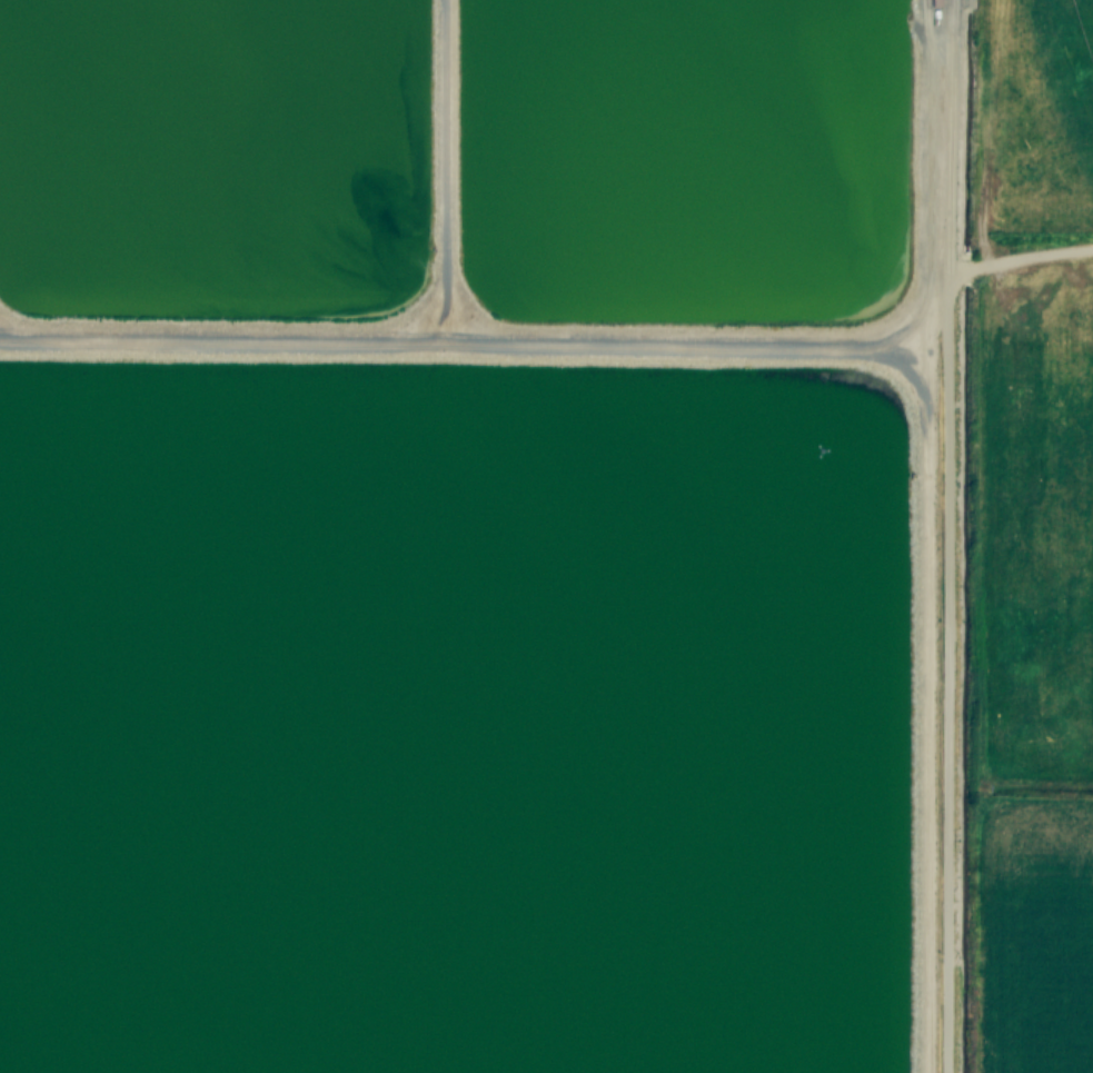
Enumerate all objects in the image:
road: (1021, 259)
wastewater plant: (488, 535)
road: (950, 536)

